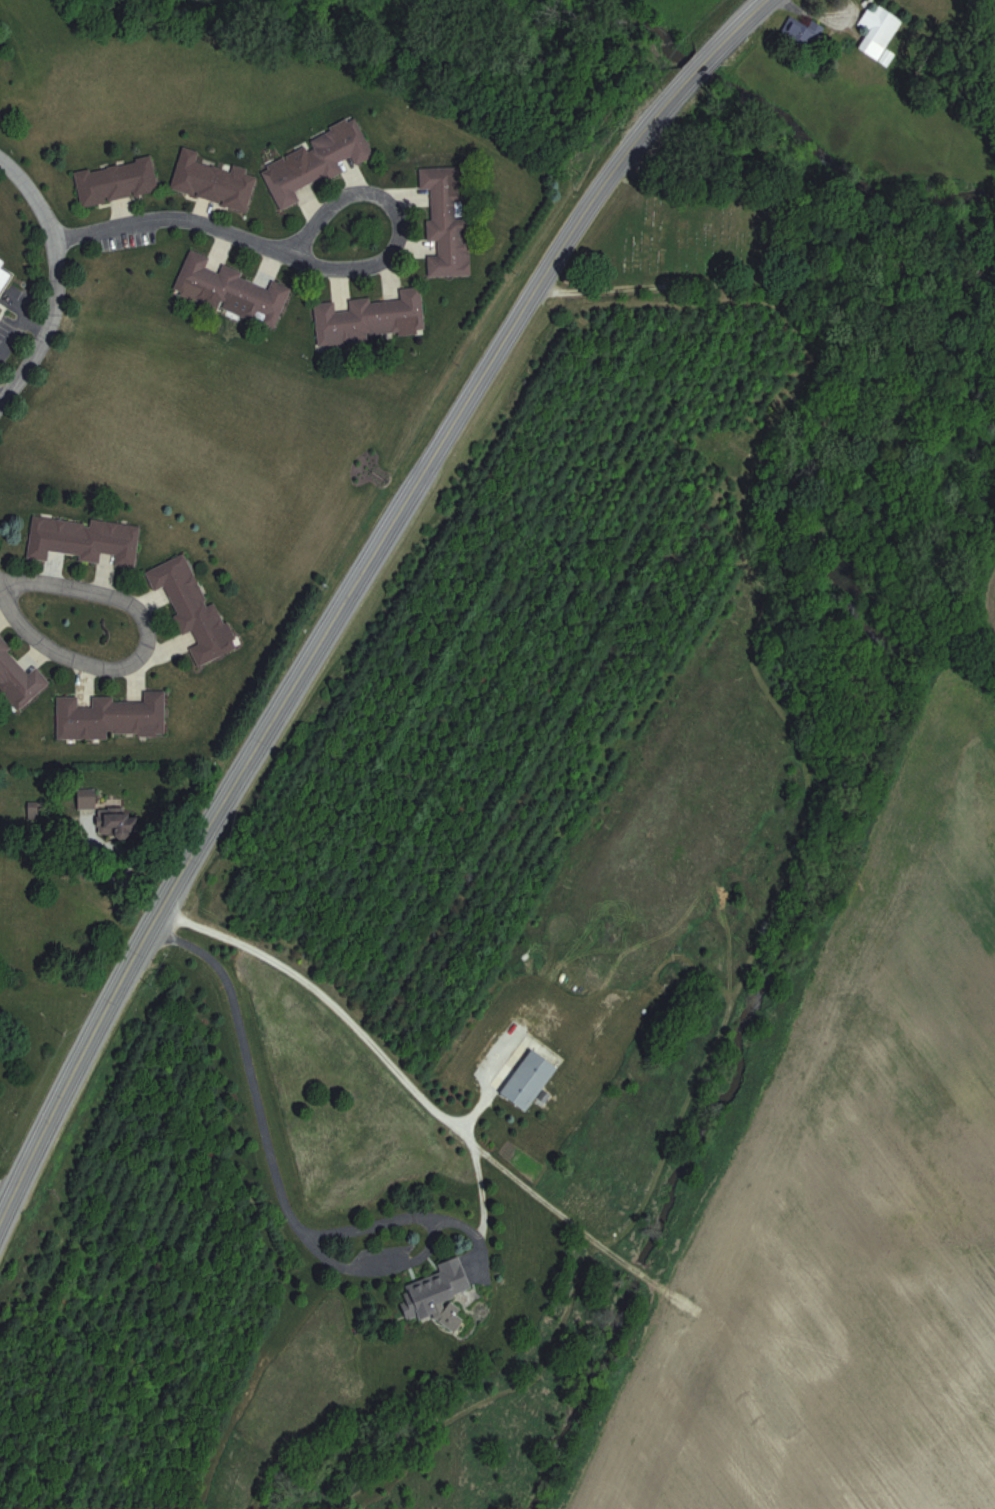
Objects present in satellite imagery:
building: (803, 28)
building: (879, 29)
building: (318, 161)
building: (117, 180)
building: (212, 180)
road: (379, 191)
road: (172, 217)
building: (448, 221)
park: (674, 240)
road: (55, 279)
building: (232, 288)
building: (370, 316)
building: (84, 538)
road: (354, 586)
building: (192, 607)
road: (145, 647)
building: (17, 679)
building: (111, 716)
building: (87, 797)
building: (119, 822)
road: (364, 1037)
building: (531, 1079)
road: (269, 1165)
road: (2, 1202)
building: (437, 1290)

